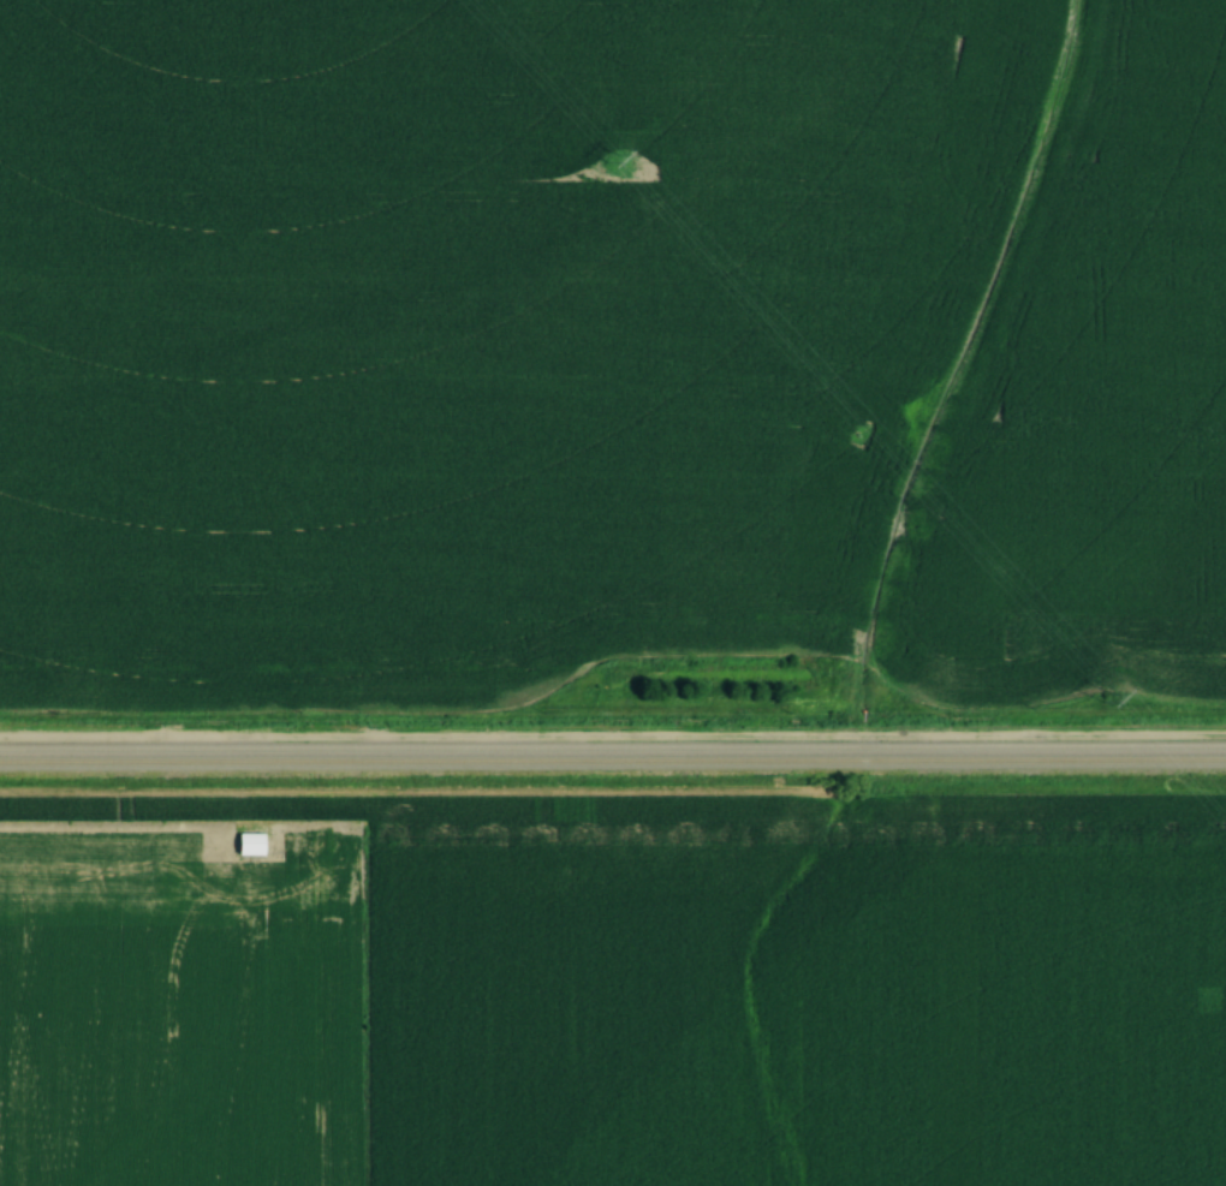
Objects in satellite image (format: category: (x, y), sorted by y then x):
power tower: (611, 159)
power tower: (1106, 699)
railway: (612, 745)
railway: (613, 761)
building: (256, 840)

